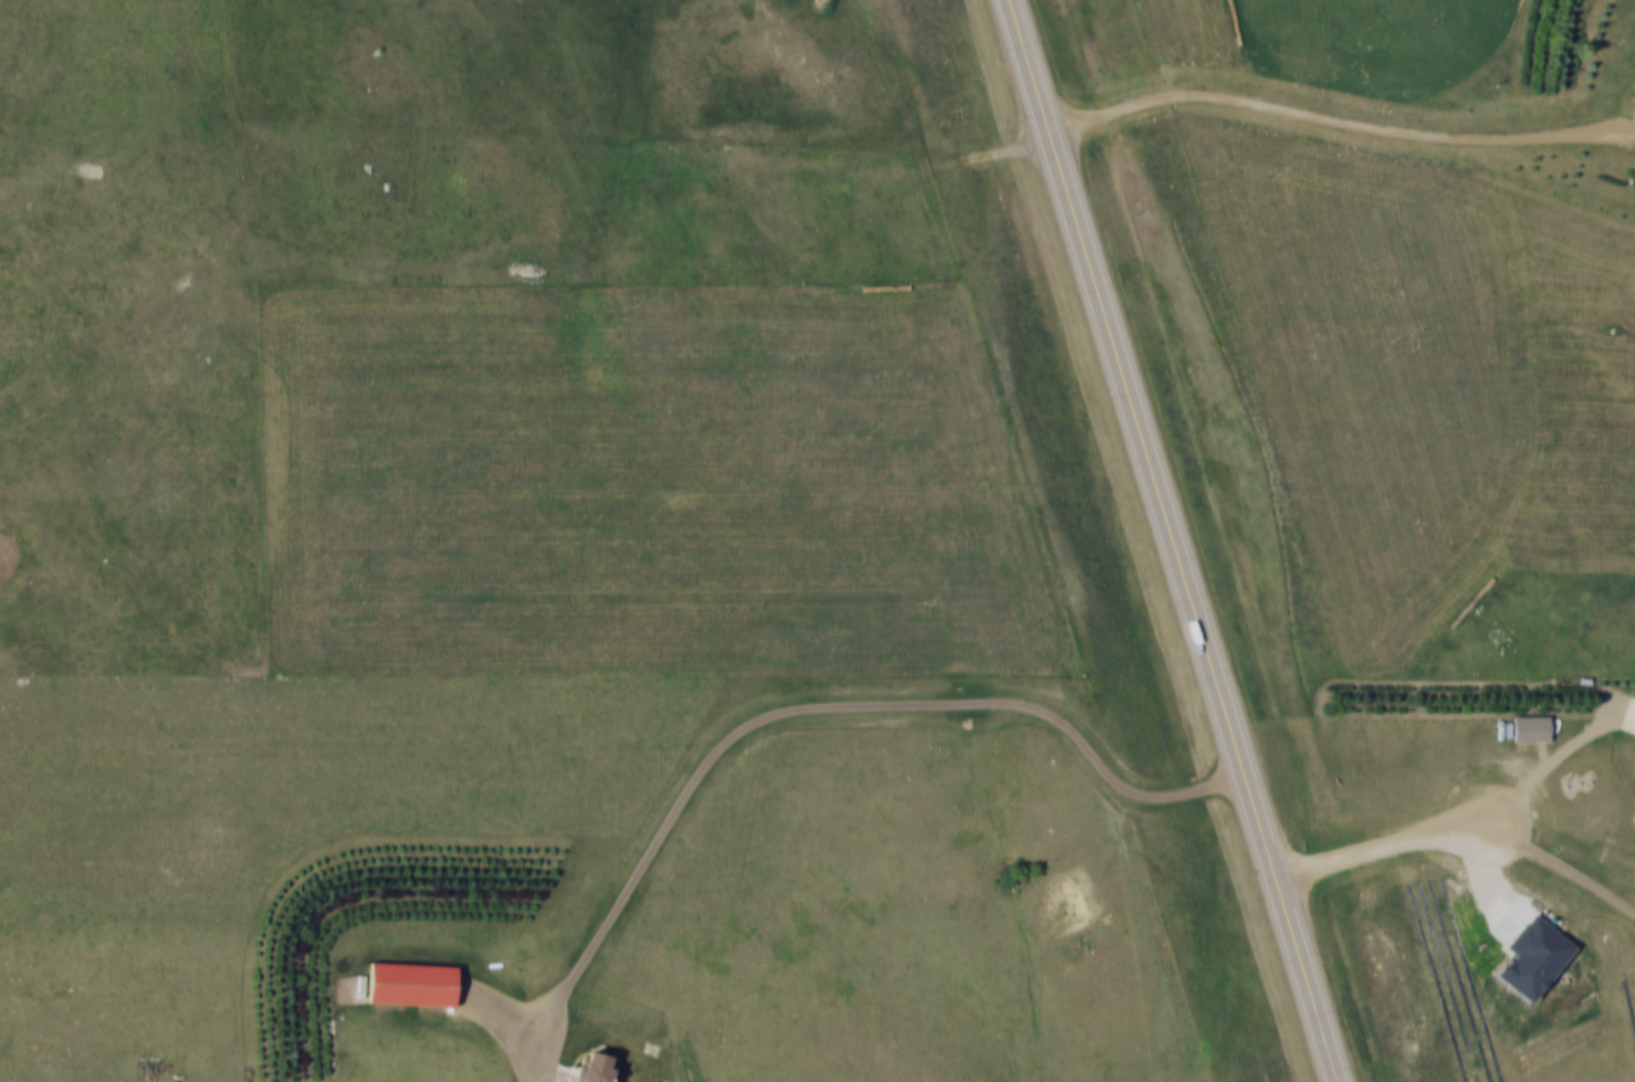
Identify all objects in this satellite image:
road: (1338, 124)
road: (1174, 540)
road: (1459, 837)
building: (413, 984)
building: (599, 1068)

